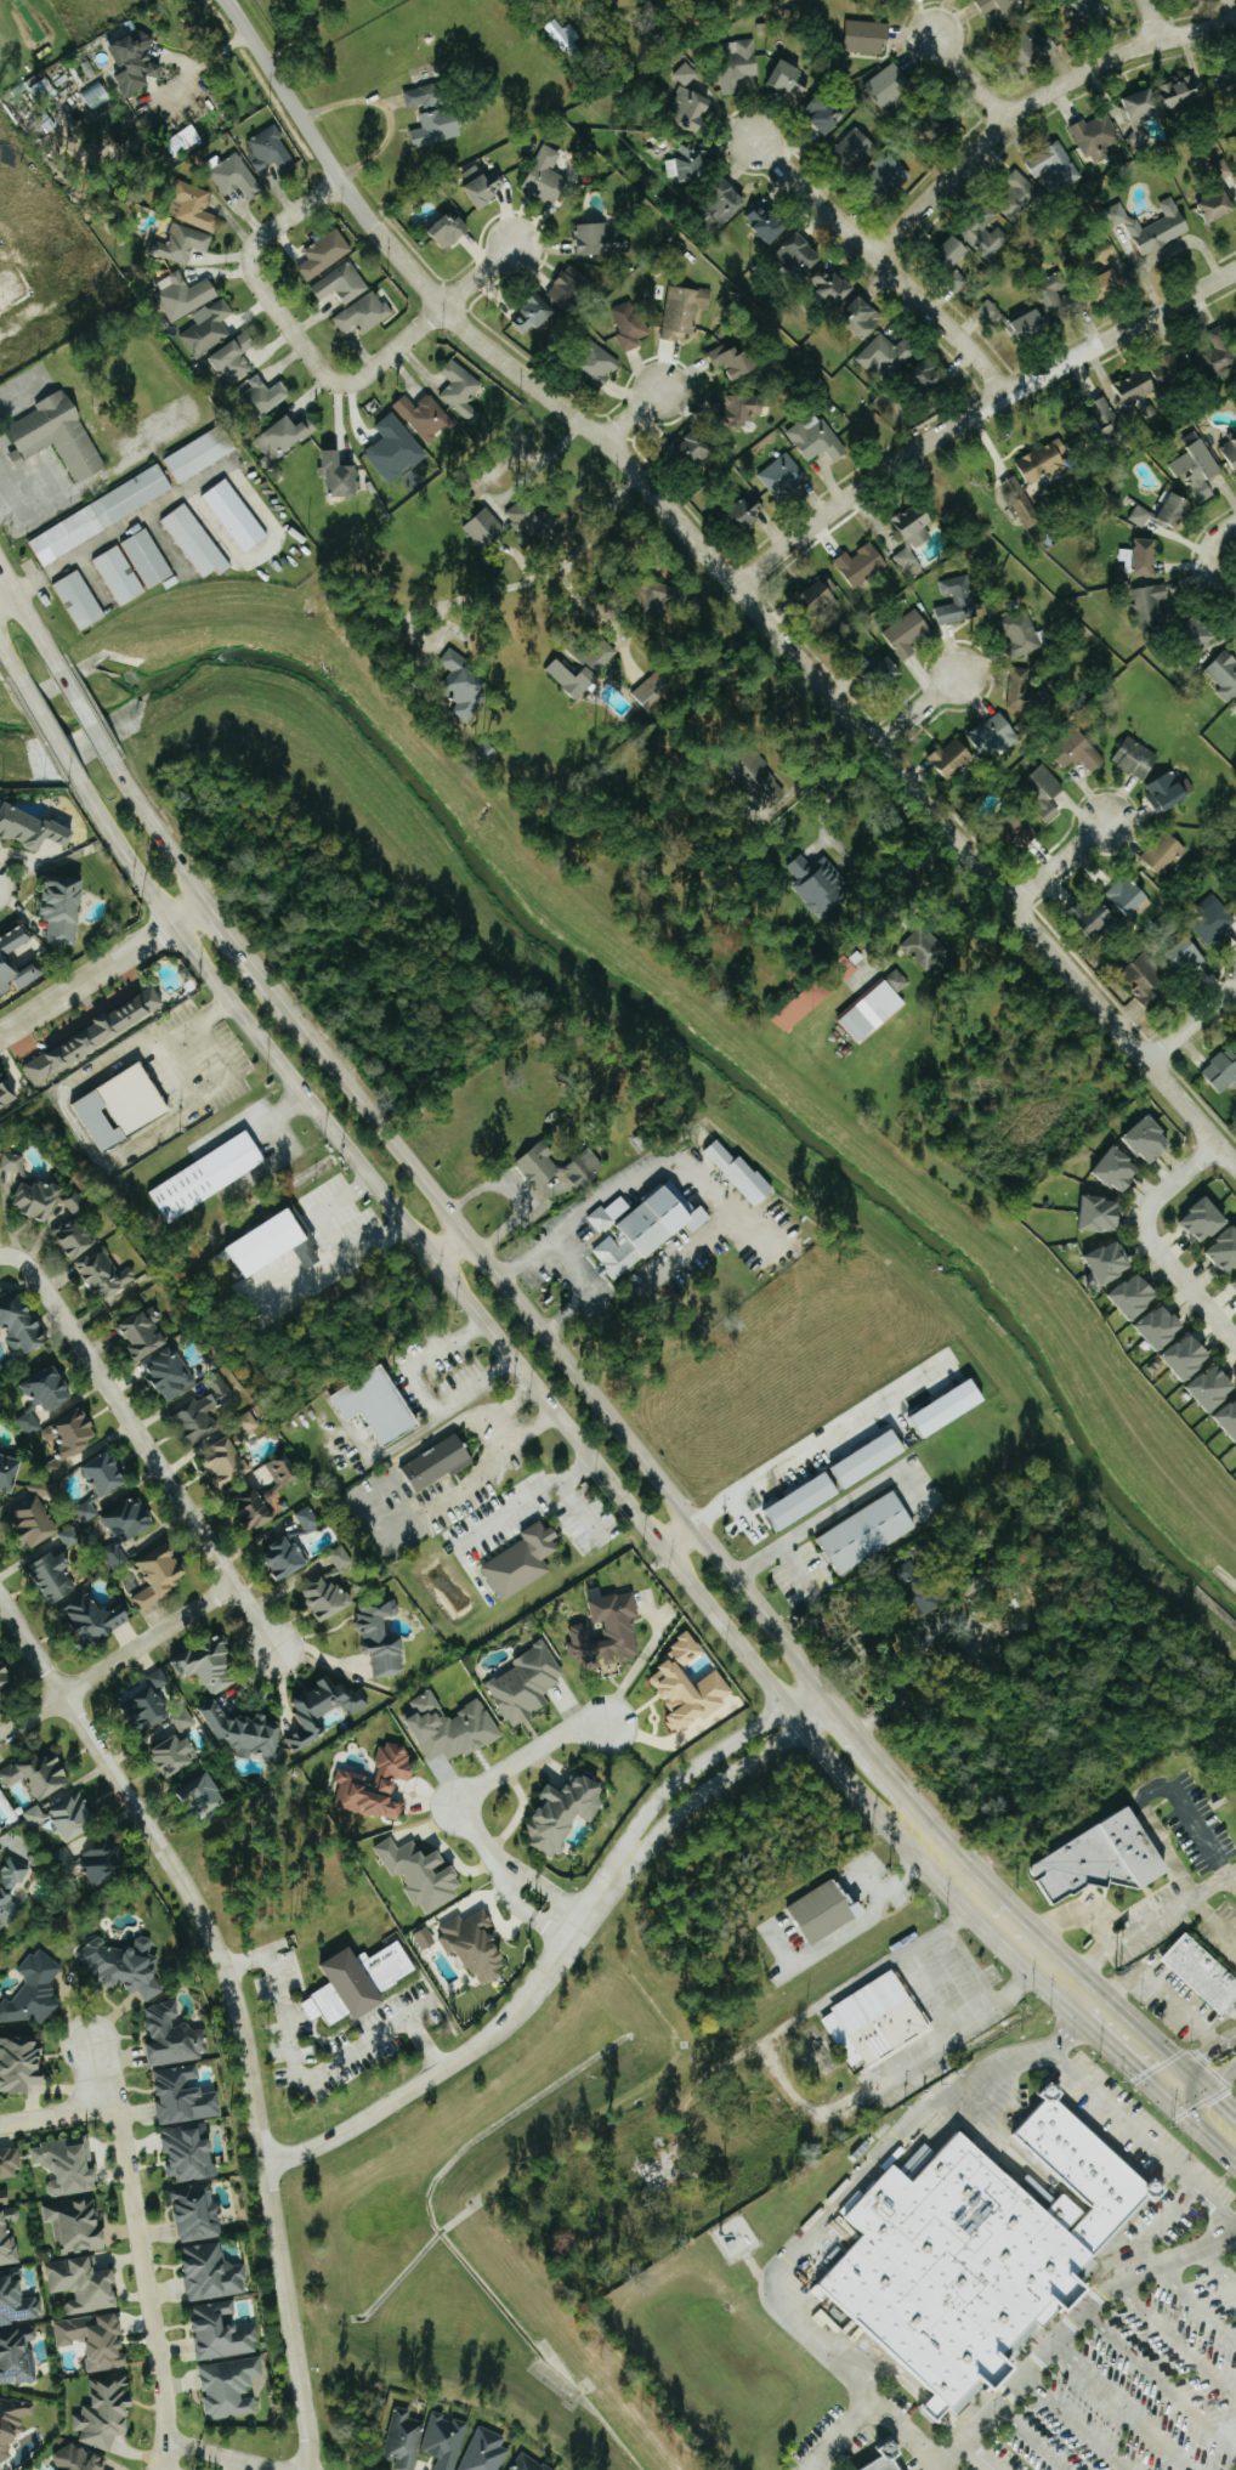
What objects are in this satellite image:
building: (886, 0)
building: (1003, 7)
building: (1093, 9)
road: (1151, 21)
building: (866, 36)
building: (565, 38)
road: (525, 49)
building: (135, 62)
building: (738, 63)
road: (202, 64)
building: (686, 74)
road: (970, 78)
building: (790, 79)
building: (1229, 81)
building: (889, 86)
building: (1183, 91)
building: (420, 96)
road: (1033, 101)
building: (690, 108)
building: (1140, 109)
road: (389, 112)
building: (823, 114)
building: (438, 128)
building: (1098, 137)
building: (855, 149)
building: (271, 151)
building: (690, 162)
building: (1054, 168)
building: (1221, 169)
building: (889, 175)
building: (237, 177)
building: (548, 177)
building: (483, 187)
building: (1020, 197)
building: (194, 206)
building: (725, 206)
building: (1220, 208)
road: (294, 216)
building: (770, 223)
building: (1150, 227)
building: (450, 230)
building: (987, 234)
building: (600, 239)
building: (185, 243)
building: (954, 251)
building: (324, 254)
road: (884, 264)
building: (813, 270)
building: (958, 281)
building: (341, 283)
building: (572, 288)
building: (187, 296)
building: (1058, 299)
building: (684, 311)
building: (364, 313)
building: (534, 315)
building: (863, 317)
road: (289, 319)
building: (1032, 324)
road: (429, 325)
building: (630, 325)
building: (209, 330)
building: (1235, 330)
building: (1215, 353)
building: (886, 357)
building: (236, 358)
building: (735, 362)
building: (600, 367)
building: (1175, 369)
building: (930, 379)
building: (1136, 387)
building: (461, 390)
building: (263, 396)
building: (744, 409)
road: (975, 412)
building: (426, 417)
road: (634, 417)
building: (1107, 418)
building: (58, 435)
building: (284, 437)
building: (1191, 440)
building: (818, 441)
building: (1231, 448)
building: (396, 449)
building: (698, 449)
building: (200, 452)
building: (1206, 460)
building: (1045, 461)
road: (540, 464)
building: (782, 475)
building: (341, 476)
road: (7, 488)
building: (1021, 503)
building: (1175, 510)
building: (748, 511)
building: (101, 514)
building: (236, 514)
building: (1141, 516)
building: (529, 519)
building: (486, 529)
building: (913, 536)
building: (195, 540)
road: (1213, 540)
building: (148, 557)
building: (1141, 559)
building: (861, 565)
road: (556, 568)
building: (119, 573)
road: (730, 579)
road: (1218, 591)
building: (817, 596)
building: (78, 597)
building: (659, 601)
building: (958, 601)
road: (10, 602)
building: (1153, 606)
road: (30, 617)
building: (1198, 633)
building: (907, 634)
building: (1021, 634)
road: (13, 659)
building: (885, 674)
building: (1225, 675)
building: (574, 679)
building: (464, 686)
building: (1022, 690)
building: (654, 691)
road: (85, 712)
road: (915, 713)
road: (50, 729)
building: (994, 736)
building: (1079, 753)
building: (953, 758)
building: (1135, 758)
road: (817, 766)
building: (761, 782)
building: (1044, 792)
building: (1170, 792)
road: (154, 827)
building: (32, 829)
building: (1022, 829)
road: (121, 846)
building: (1164, 854)
road: (1059, 863)
building: (820, 883)
building: (1128, 895)
road: (918, 908)
building: (63, 910)
road: (188, 911)
building: (1212, 918)
building: (1095, 920)
road: (236, 942)
building: (925, 948)
building: (1189, 956)
building: (16, 963)
road: (85, 978)
building: (1147, 981)
building: (877, 1007)
road: (1191, 1022)
building: (96, 1037)
building: (1235, 1044)
building: (1219, 1070)
building: (7, 1095)
building: (123, 1107)
building: (1140, 1139)
building: (1, 1152)
building: (12, 1162)
building: (540, 1166)
building: (585, 1168)
building: (1110, 1168)
building: (742, 1173)
building: (210, 1177)
building: (39, 1199)
building: (75, 1205)
building: (1092, 1213)
building: (1194, 1219)
building: (616, 1230)
building: (75, 1237)
building: (271, 1245)
road: (1149, 1246)
road: (450, 1248)
building: (1219, 1250)
building: (311, 1257)
building: (1100, 1262)
road: (571, 1264)
building: (107, 1275)
building: (1231, 1284)
building: (1124, 1296)
building: (22, 1324)
building: (1151, 1326)
road: (542, 1333)
building: (144, 1336)
building: (1178, 1356)
road: (532, 1384)
building: (1203, 1387)
building: (50, 1388)
building: (221, 1389)
road: (423, 1392)
building: (380, 1405)
building: (952, 1407)
building: (1225, 1417)
building: (197, 1418)
building: (248, 1422)
road: (494, 1431)
building: (78, 1432)
road: (144, 1444)
road: (813, 1445)
road: (393, 1446)
building: (1234, 1449)
building: (872, 1458)
building: (227, 1462)
building: (440, 1462)
building: (283, 1471)
building: (8, 1472)
building: (106, 1473)
building: (805, 1501)
building: (256, 1507)
building: (35, 1517)
building: (131, 1518)
building: (310, 1519)
road: (362, 1526)
building: (869, 1531)
road: (680, 1536)
road: (782, 1546)
building: (341, 1557)
building: (287, 1558)
building: (522, 1562)
building: (55, 1575)
building: (161, 1575)
building: (328, 1598)
building: (95, 1616)
road: (946, 1621)
building: (608, 1633)
building: (382, 1639)
road: (118, 1661)
building: (211, 1665)
building: (5, 1676)
building: (527, 1684)
building: (688, 1687)
building: (151, 1704)
building: (322, 1710)
building: (183, 1721)
road: (850, 1722)
road: (591, 1724)
building: (453, 1728)
building: (244, 1732)
building: (175, 1755)
road: (711, 1755)
road: (730, 1773)
building: (39, 1774)
building: (378, 1785)
building: (0, 1792)
building: (205, 1795)
building: (566, 1812)
road: (1149, 1814)
road: (460, 1815)
building: (35, 1817)
building: (73, 1817)
road: (923, 1819)
building: (0, 1832)
road: (931, 1859)
building: (1099, 1862)
building: (104, 1863)
building: (423, 1874)
building: (10, 1891)
building: (824, 1911)
road: (863, 1917)
road: (1152, 1927)
building: (426, 1938)
road: (1027, 1944)
building: (476, 1945)
building: (124, 1965)
building: (359, 1983)
building: (34, 1992)
road: (234, 2002)
road: (943, 2002)
building: (878, 2021)
building: (174, 2036)
road: (480, 2044)
road: (1136, 2047)
road: (1201, 2053)
building: (21, 2064)
road: (96, 2074)
road: (305, 2075)
road: (1207, 2078)
road: (788, 2086)
traffic signals: (1177, 2086)
building: (186, 2096)
road: (1206, 2113)
road: (1155, 2151)
building: (191, 2152)
building: (10, 2164)
building: (68, 2166)
building: (4, 2197)
road: (1213, 2206)
road: (838, 2209)
building: (198, 2213)
building: (76, 2225)
road: (137, 2232)
building: (8, 2237)
building: (954, 2261)
road: (1215, 2268)
building: (212, 2273)
building: (84, 2285)
building: (17, 2302)
road: (1194, 2307)
road: (1067, 2322)
building: (222, 2333)
building: (97, 2340)
road: (1174, 2341)
building: (17, 2356)
road: (1157, 2381)
building: (231, 2387)
road: (1116, 2406)
building: (106, 2413)
road: (1072, 2421)
building: (12, 2424)
road: (898, 2429)
road: (1024, 2438)
building: (404, 2440)
building: (446, 2441)
building: (498, 2454)
road: (974, 2454)
road: (221, 2455)
building: (890, 2460)
road: (233, 2464)
road: (932, 2468)

